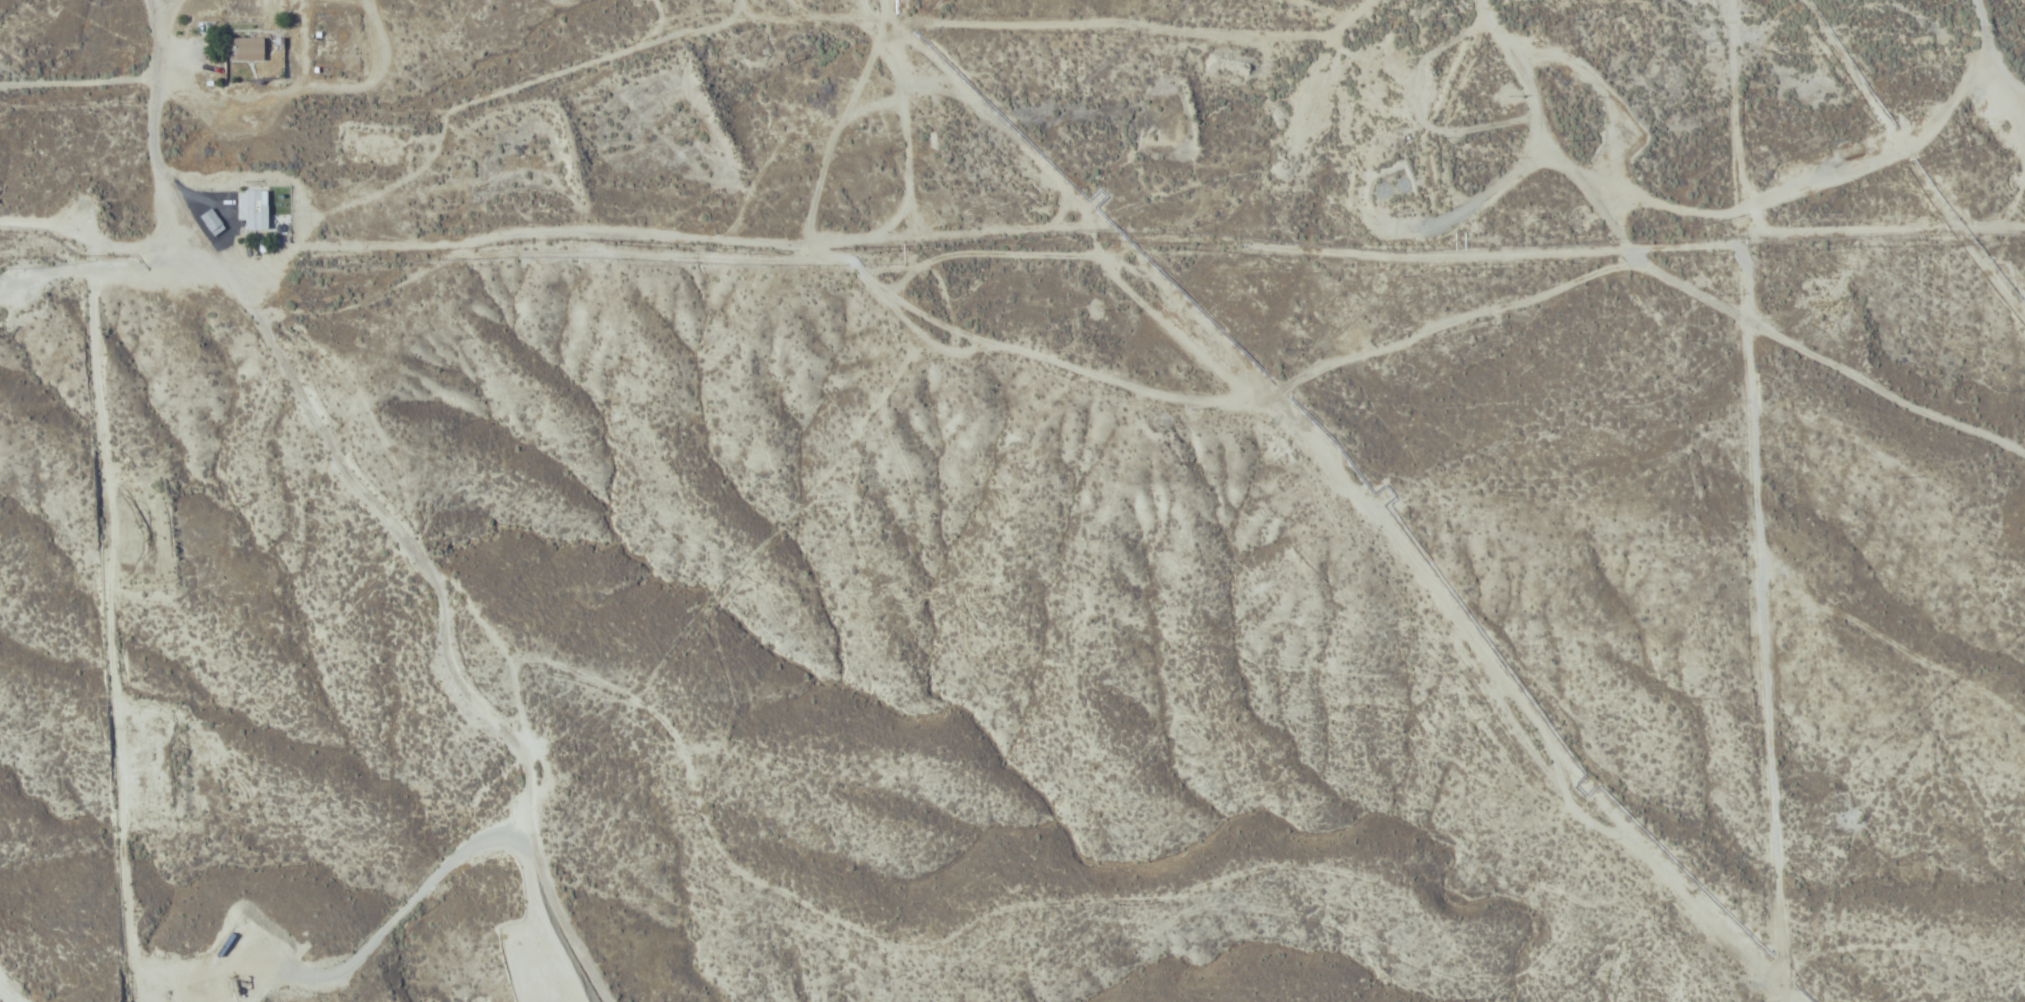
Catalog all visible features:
road: (160, 18)
road: (761, 18)
building: (246, 49)
road: (80, 79)
road: (1742, 161)
building: (1401, 184)
building: (251, 210)
building: (208, 221)
road: (1005, 345)
road: (374, 500)

